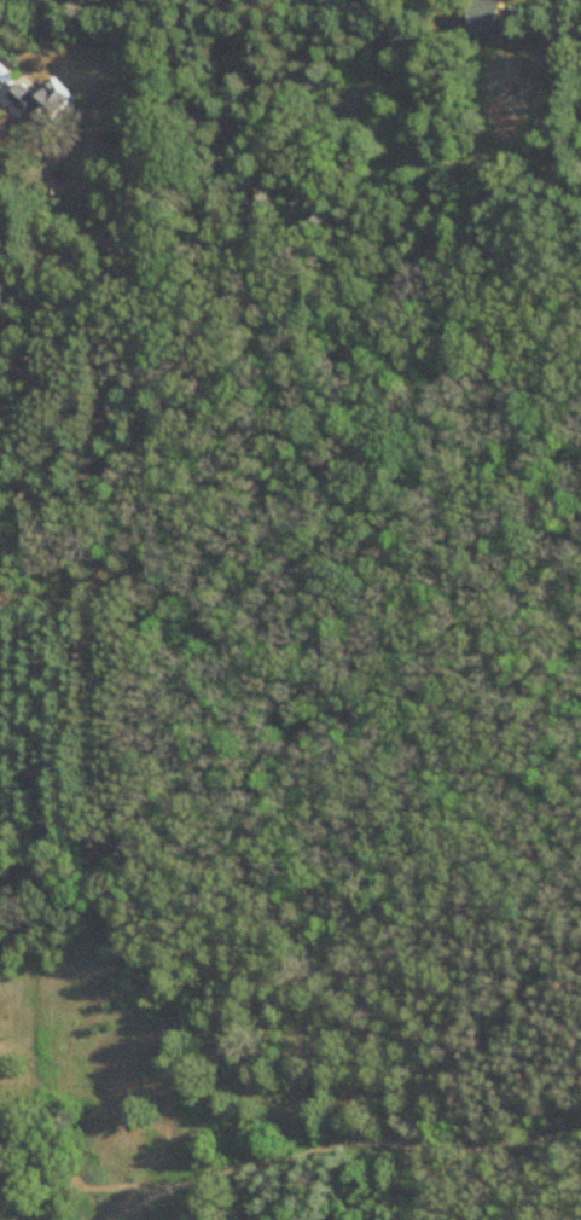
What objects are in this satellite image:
building: (567, 1)
building: (494, 21)
building: (45, 99)
building: (62, 186)

